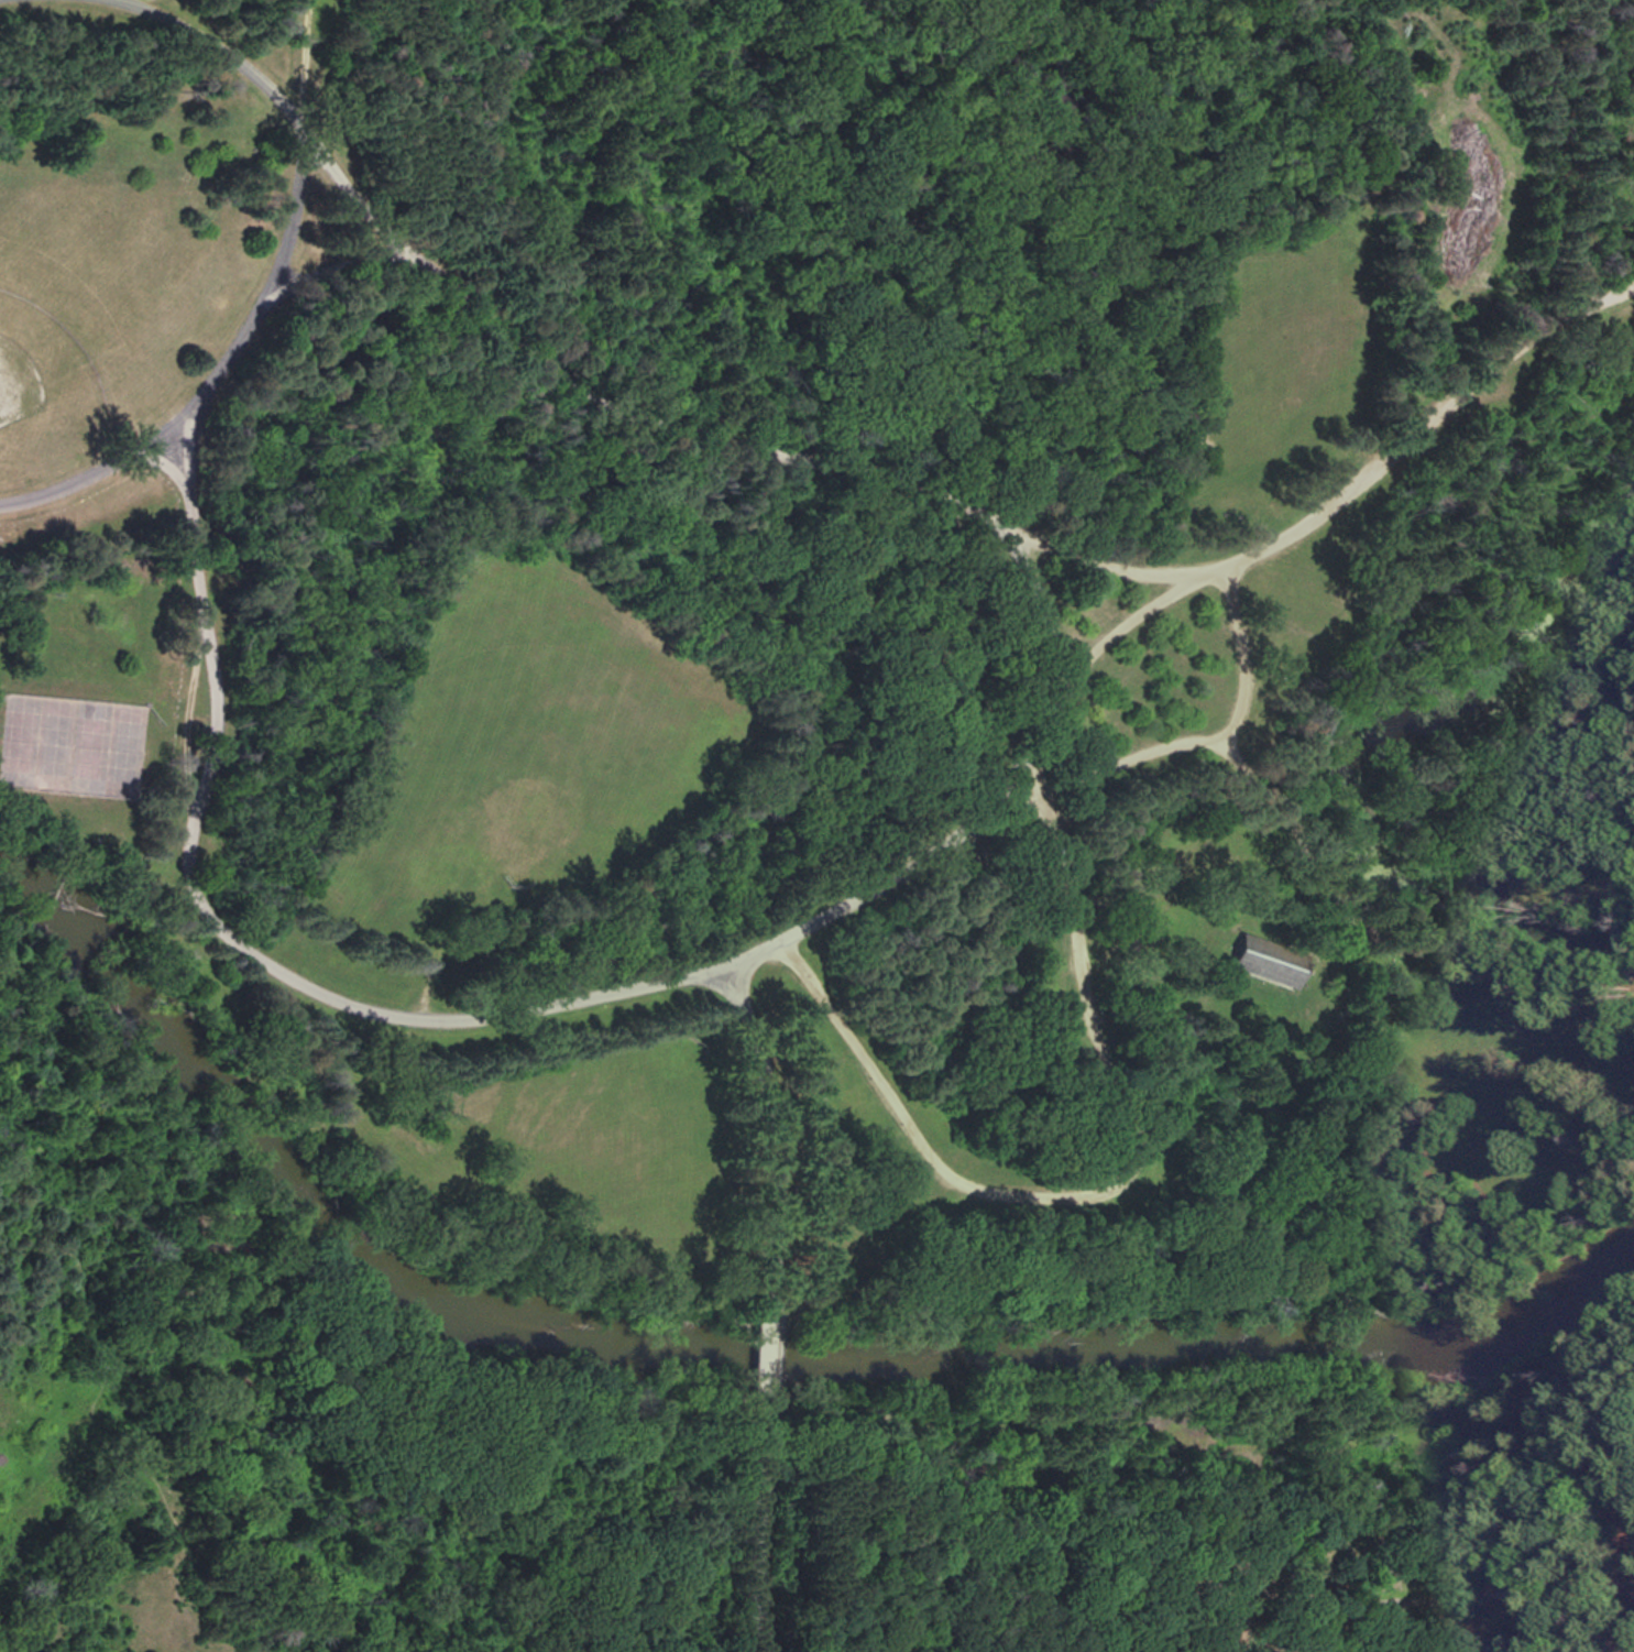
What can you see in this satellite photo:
road: (3, 0)
road: (97, 2)
road: (276, 230)
park: (14, 379)
road: (83, 479)
road: (1325, 508)
road: (1134, 615)
road: (1239, 654)
road: (983, 812)
park: (816, 825)
road: (90, 838)
road: (1326, 865)
building: (1266, 962)
road: (767, 1117)
road: (1108, 1190)
road: (767, 1344)
river: (730, 1355)
road: (479, 1396)
road: (1208, 1404)
road: (112, 1444)
road: (1463, 1500)
road: (758, 1531)
road: (63, 1551)
road: (1438, 1595)

